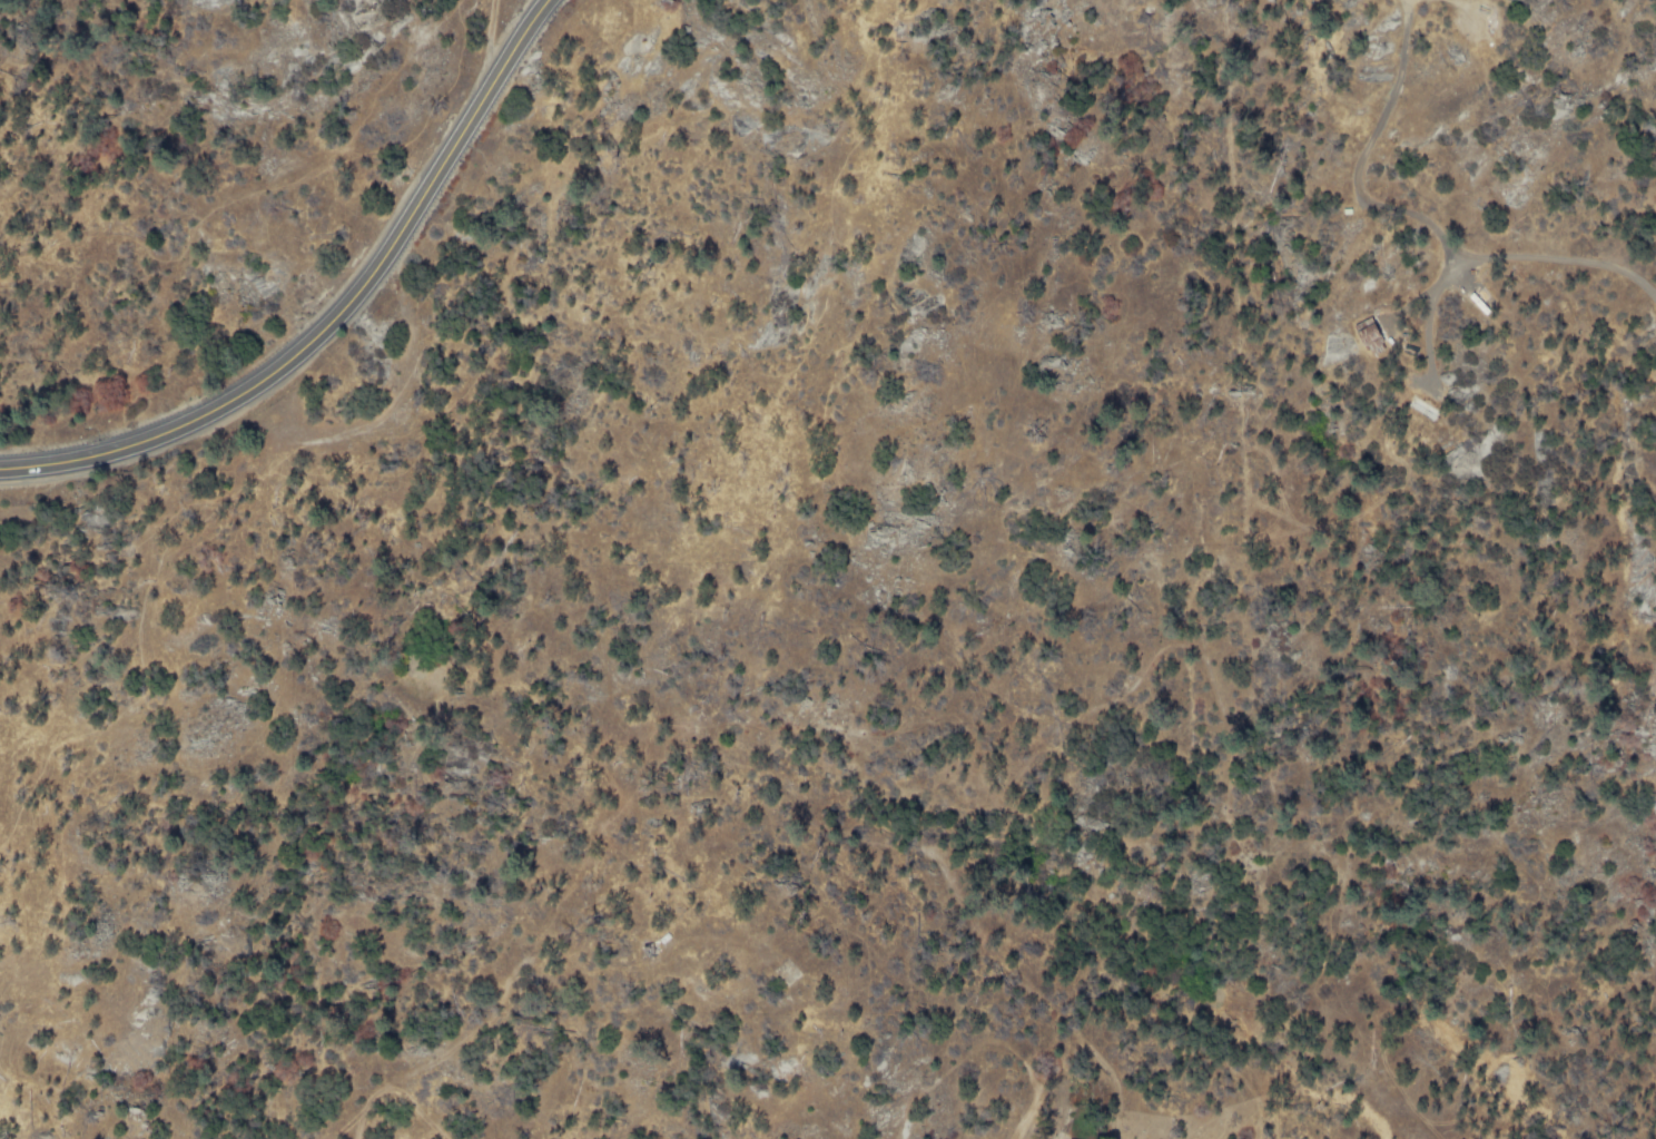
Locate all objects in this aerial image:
road: (1419, 213)
road: (341, 318)
road: (1431, 318)

